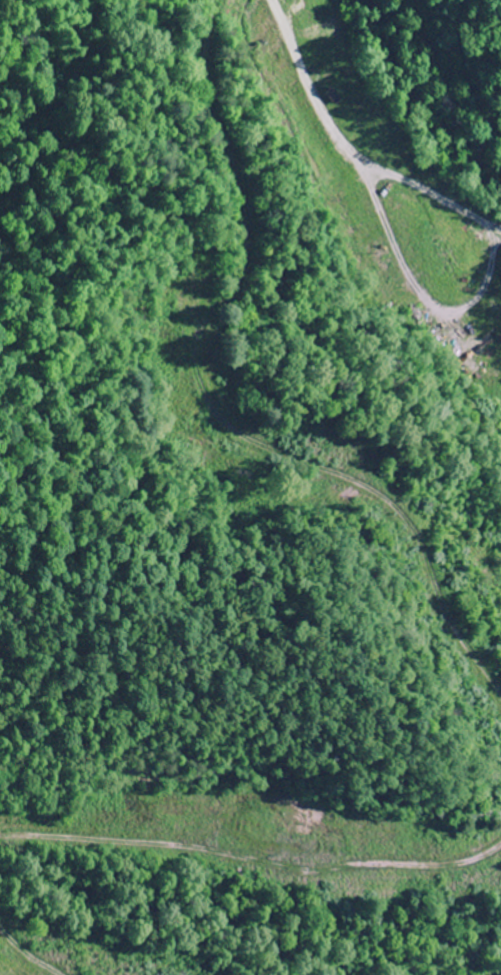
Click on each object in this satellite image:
road: (323, 120)

